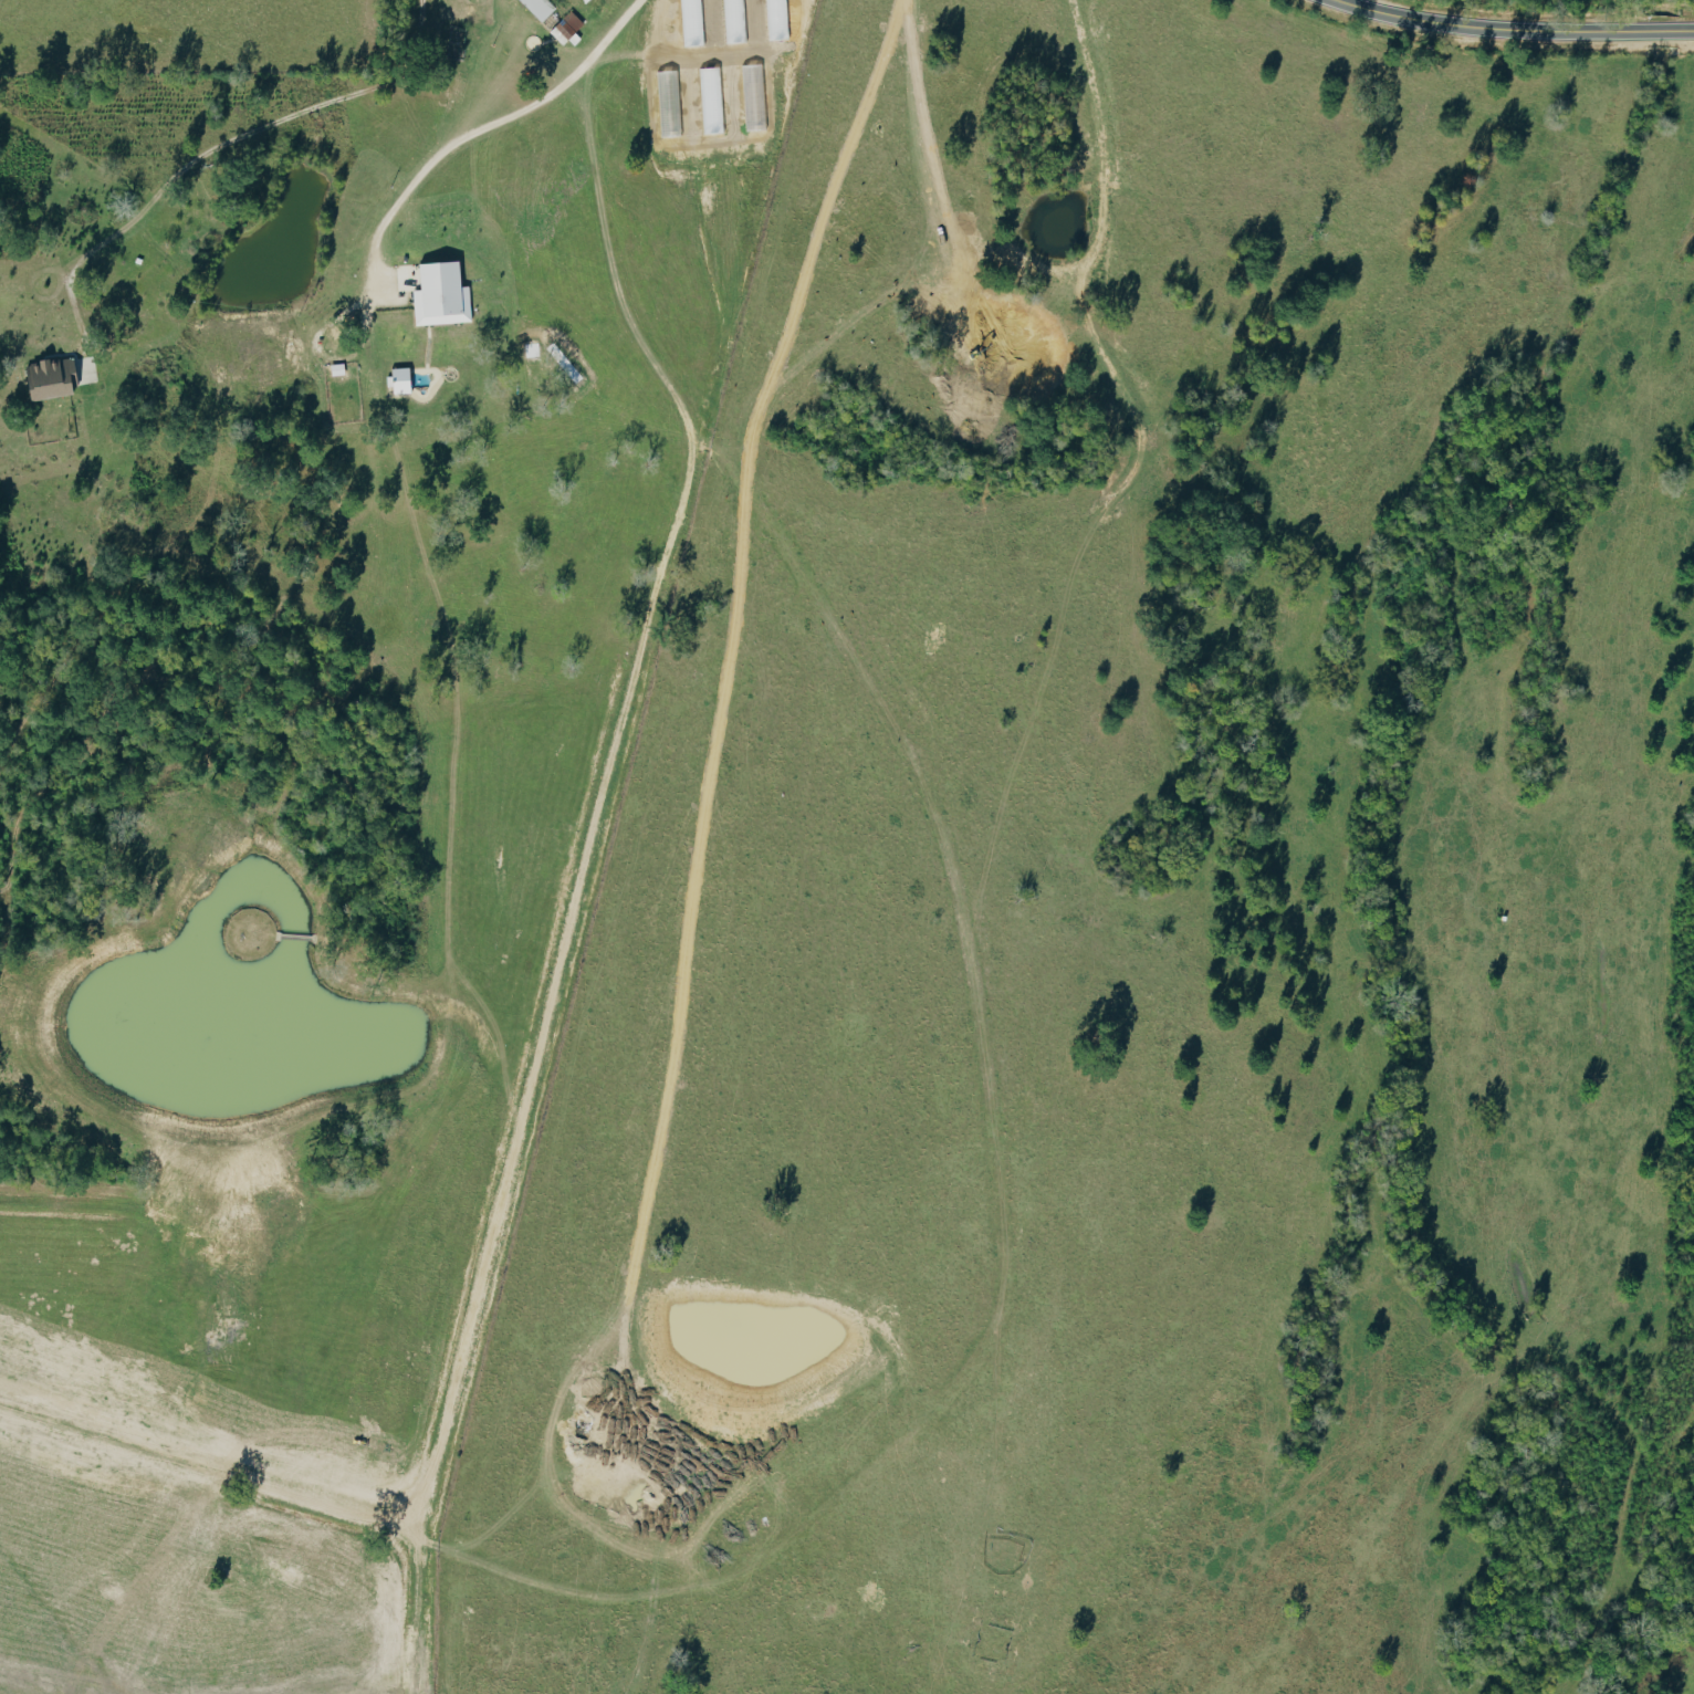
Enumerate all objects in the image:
building: (541, 8)
road: (1520, 23)
building: (566, 33)
road: (496, 129)
road: (236, 146)
building: (443, 294)
building: (54, 378)
building: (402, 379)

